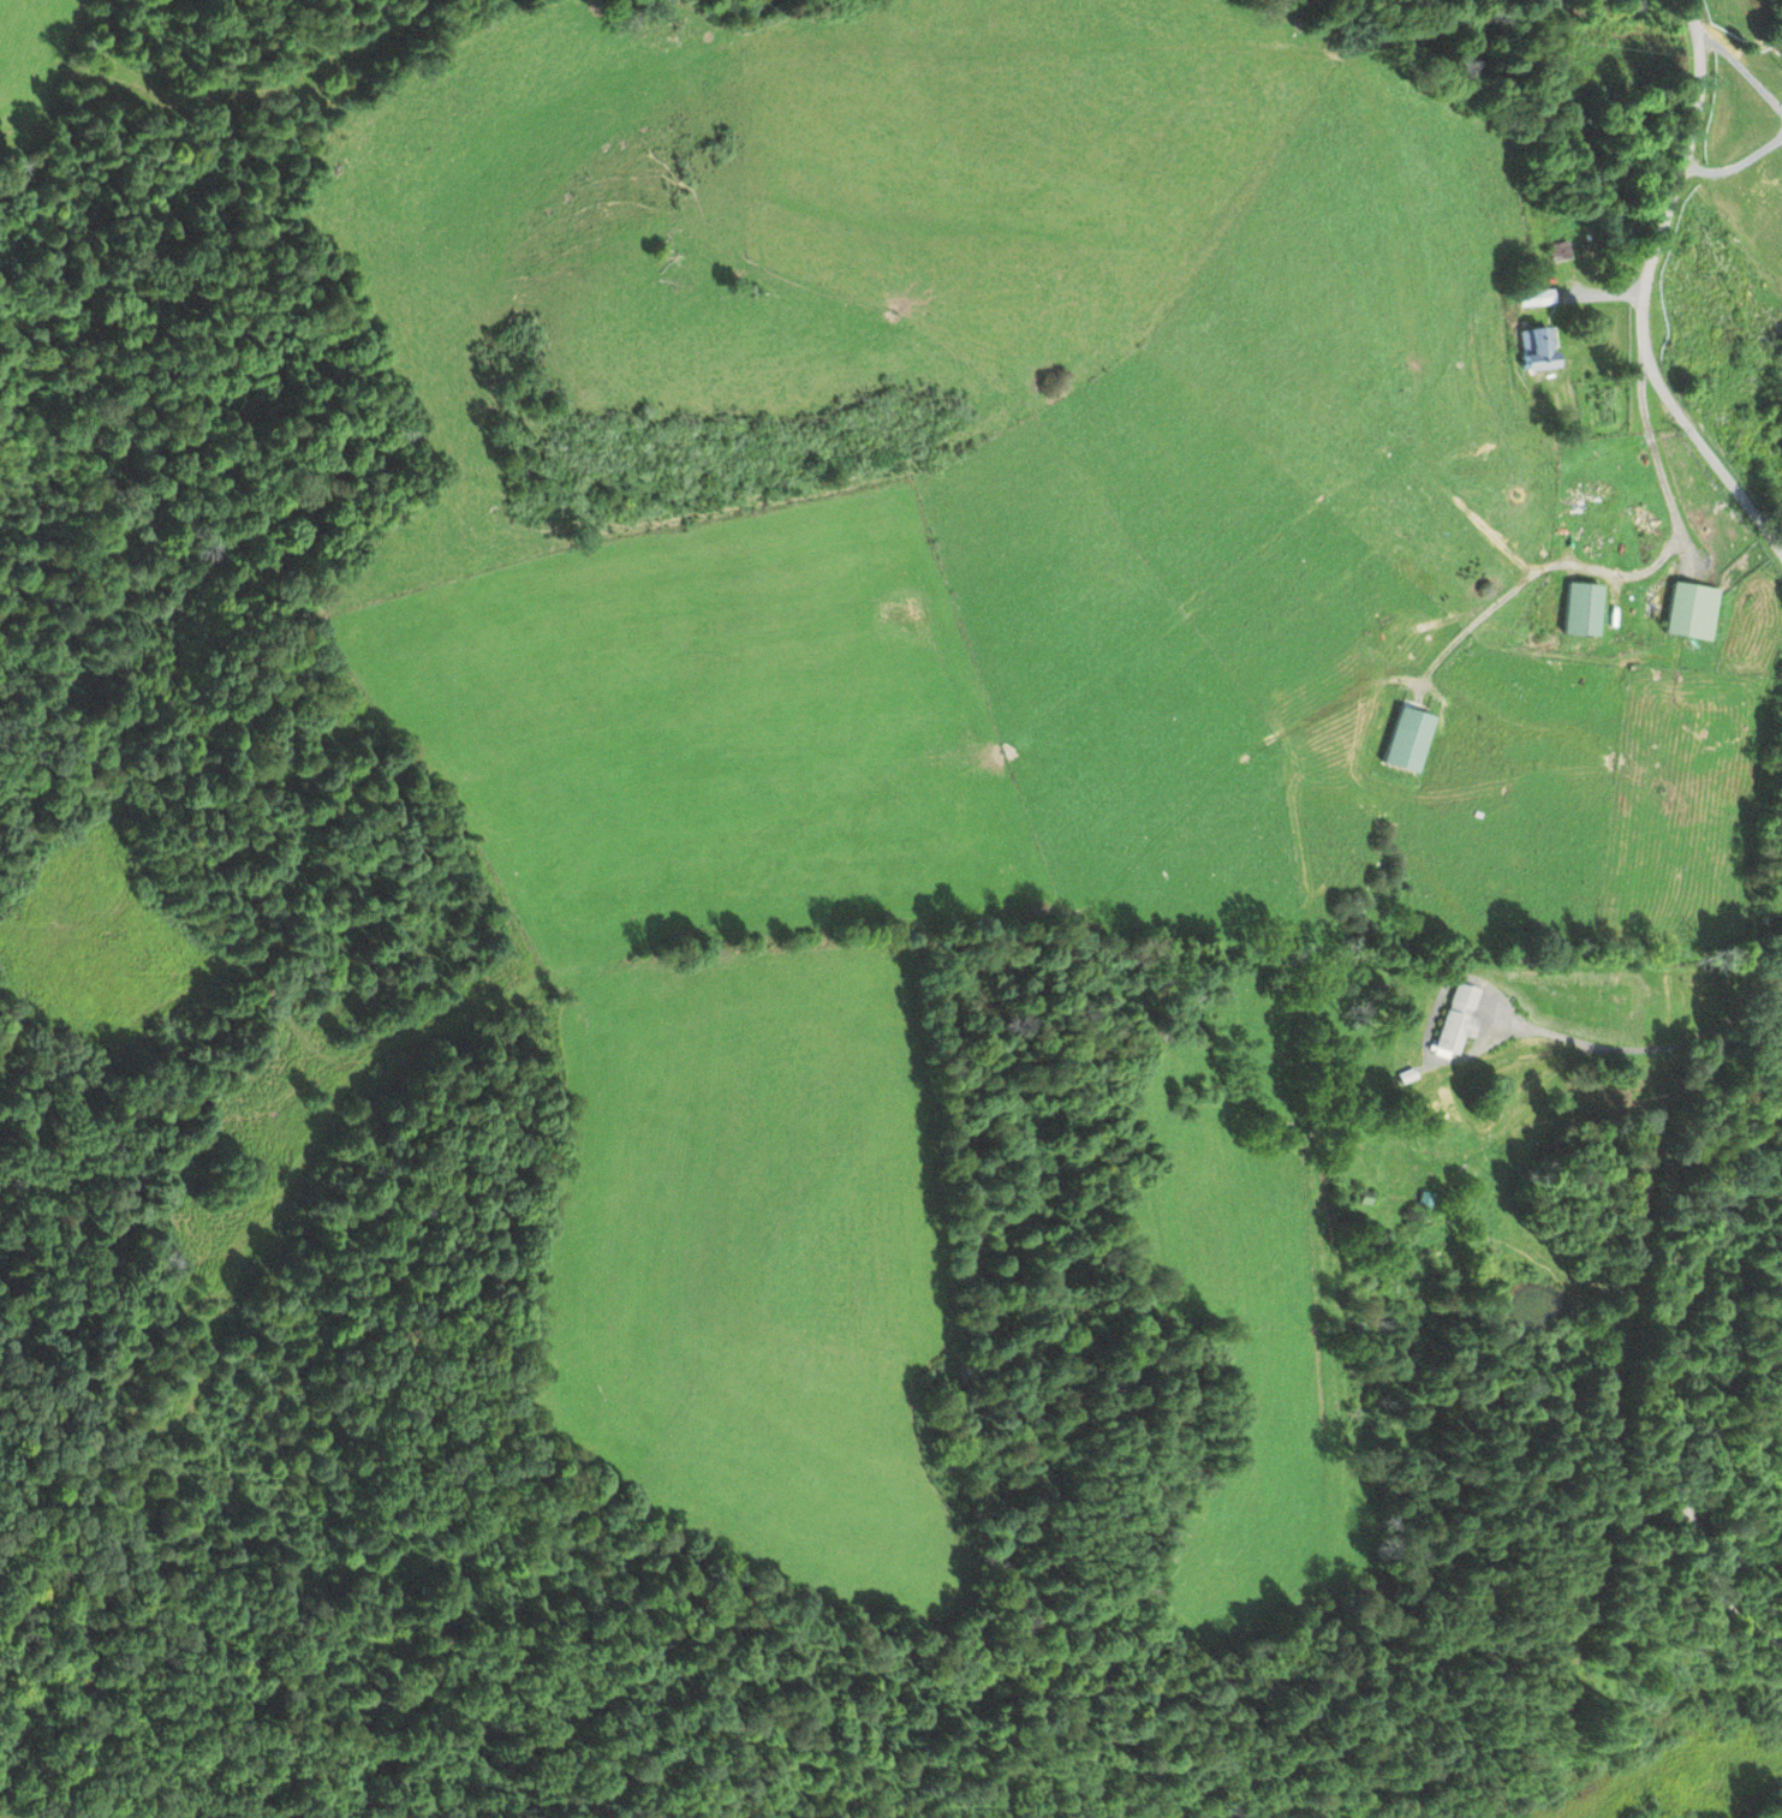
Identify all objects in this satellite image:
building: (1558, 252)
road: (1644, 292)
building: (1537, 299)
building: (1537, 350)
building: (1691, 613)
building: (1591, 638)
building: (1456, 1021)
road: (1593, 1063)
road: (1647, 1361)

